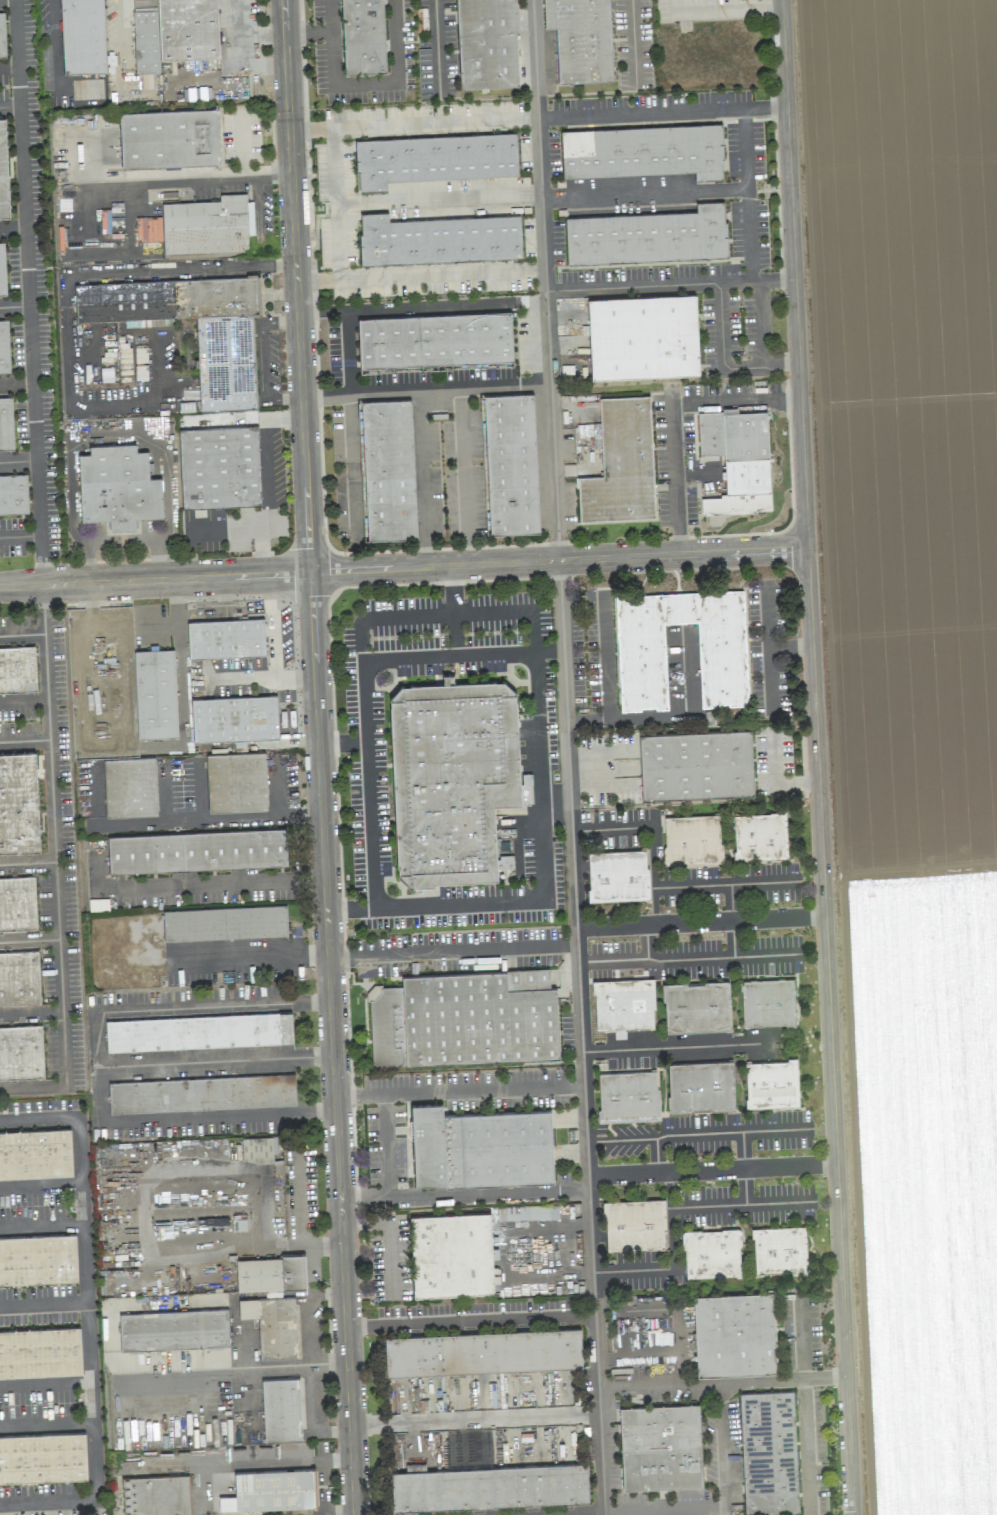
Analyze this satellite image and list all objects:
road: (6, 0)
road: (722, 8)
road: (307, 33)
building: (2, 36)
building: (82, 36)
building: (363, 36)
building: (580, 39)
road: (126, 40)
road: (54, 43)
building: (487, 43)
road: (632, 44)
road: (436, 49)
road: (8, 68)
road: (363, 84)
road: (8, 104)
road: (536, 118)
building: (169, 139)
road: (244, 143)
road: (745, 148)
building: (643, 151)
building: (433, 159)
building: (3, 172)
road: (256, 176)
road: (130, 182)
road: (21, 192)
road: (643, 193)
road: (438, 198)
road: (260, 201)
road: (335, 203)
road: (11, 225)
building: (207, 225)
road: (749, 235)
building: (648, 236)
building: (437, 239)
road: (133, 248)
building: (2, 271)
road: (71, 275)
road: (420, 275)
road: (545, 279)
road: (767, 280)
road: (643, 286)
road: (13, 303)
road: (405, 308)
road: (762, 324)
road: (721, 326)
building: (643, 336)
building: (434, 340)
building: (4, 347)
building: (224, 347)
road: (263, 361)
road: (760, 367)
road: (483, 386)
road: (671, 414)
road: (418, 420)
road: (282, 421)
building: (6, 424)
road: (33, 424)
road: (113, 442)
building: (736, 461)
building: (510, 463)
road: (263, 464)
building: (621, 464)
building: (219, 467)
road: (352, 468)
building: (387, 469)
road: (464, 476)
building: (117, 487)
building: (13, 494)
road: (37, 523)
road: (19, 533)
road: (260, 541)
road: (404, 568)
road: (452, 610)
road: (464, 613)
road: (272, 627)
road: (21, 632)
building: (225, 638)
road: (790, 647)
road: (768, 649)
road: (605, 655)
road: (446, 656)
building: (640, 664)
building: (17, 669)
road: (265, 679)
building: (155, 693)
road: (23, 698)
crop: (912, 701)
road: (535, 713)
road: (666, 716)
building: (234, 718)
road: (24, 738)
road: (341, 742)
road: (318, 757)
road: (818, 757)
building: (696, 764)
road: (366, 768)
building: (453, 778)
building: (236, 782)
building: (129, 787)
road: (95, 796)
building: (18, 803)
road: (555, 805)
road: (208, 821)
road: (641, 827)
building: (760, 836)
building: (692, 839)
building: (196, 850)
road: (27, 861)
road: (54, 870)
building: (617, 875)
road: (223, 885)
road: (708, 885)
road: (478, 902)
road: (730, 902)
building: (17, 903)
road: (701, 921)
building: (224, 923)
road: (732, 938)
road: (29, 939)
road: (646, 941)
road: (492, 947)
road: (368, 953)
road: (725, 957)
road: (252, 958)
road: (611, 960)
building: (19, 978)
building: (768, 1002)
building: (623, 1003)
building: (696, 1006)
road: (31, 1014)
building: (464, 1018)
building: (198, 1032)
road: (581, 1037)
road: (683, 1047)
building: (21, 1052)
road: (216, 1059)
road: (100, 1065)
building: (771, 1083)
building: (700, 1086)
road: (458, 1090)
building: (201, 1093)
building: (628, 1096)
road: (731, 1132)
road: (620, 1140)
road: (385, 1144)
building: (480, 1147)
building: (258, 1149)
building: (35, 1154)
road: (656, 1156)
road: (742, 1168)
road: (712, 1170)
road: (40, 1185)
road: (150, 1186)
road: (669, 1190)
road: (463, 1193)
road: (303, 1199)
road: (672, 1223)
building: (634, 1224)
road: (41, 1228)
road: (392, 1235)
road: (297, 1246)
road: (324, 1248)
building: (779, 1249)
building: (711, 1253)
building: (451, 1254)
building: (38, 1259)
road: (633, 1271)
building: (270, 1273)
road: (43, 1304)
road: (87, 1318)
road: (470, 1321)
building: (272, 1324)
building: (173, 1329)
building: (734, 1334)
road: (801, 1334)
building: (482, 1351)
road: (637, 1351)
building: (40, 1352)
road: (304, 1361)
road: (198, 1371)
road: (783, 1379)
road: (700, 1382)
road: (45, 1383)
road: (639, 1385)
building: (281, 1409)
road: (474, 1418)
road: (47, 1425)
building: (660, 1446)
road: (805, 1447)
road: (722, 1448)
building: (768, 1452)
building: (42, 1457)
building: (489, 1486)
building: (271, 1490)
building: (156, 1495)
road: (664, 1509)
road: (573, 1513)

